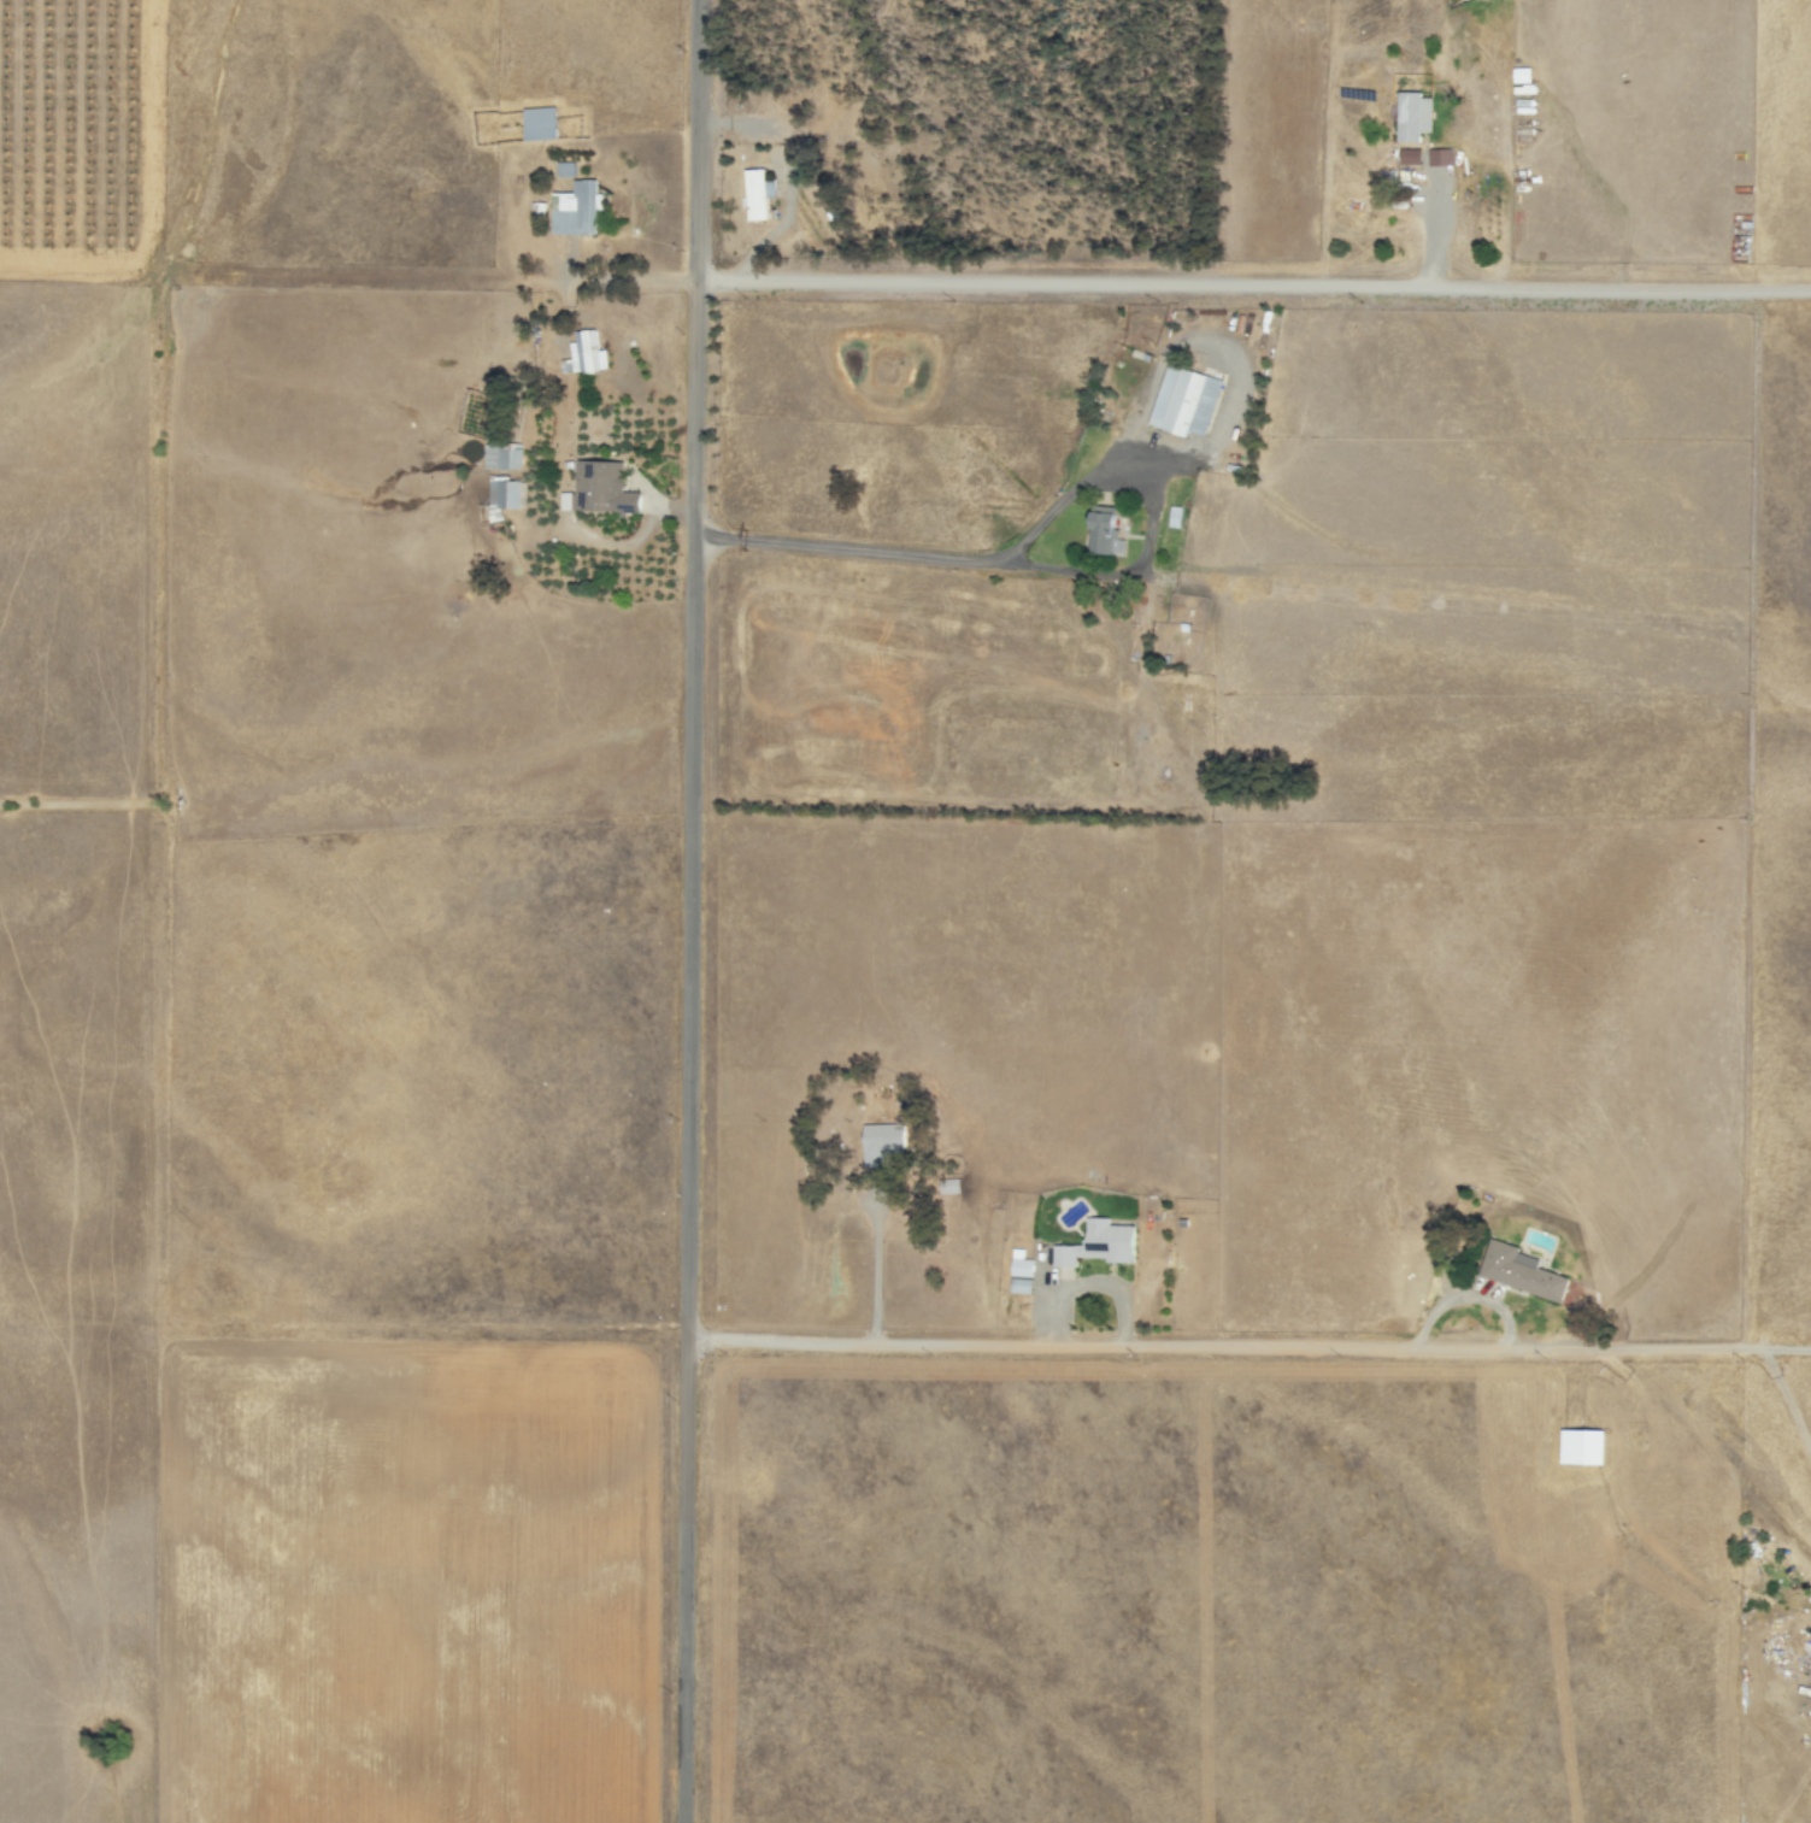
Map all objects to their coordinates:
building: (1411, 116)
building: (539, 124)
building: (563, 169)
building: (755, 194)
building: (575, 208)
road: (1441, 228)
road: (984, 284)
road: (1219, 345)
building: (583, 354)
building: (1183, 401)
building: (499, 454)
building: (599, 489)
building: (501, 495)
building: (1172, 517)
building: (1105, 531)
road: (1063, 570)
road: (686, 911)
building: (881, 1142)
building: (1098, 1243)
building: (1018, 1264)
building: (1521, 1271)
road: (875, 1278)
building: (1018, 1284)
road: (1139, 1345)
road: (1703, 1347)
building: (1581, 1446)

